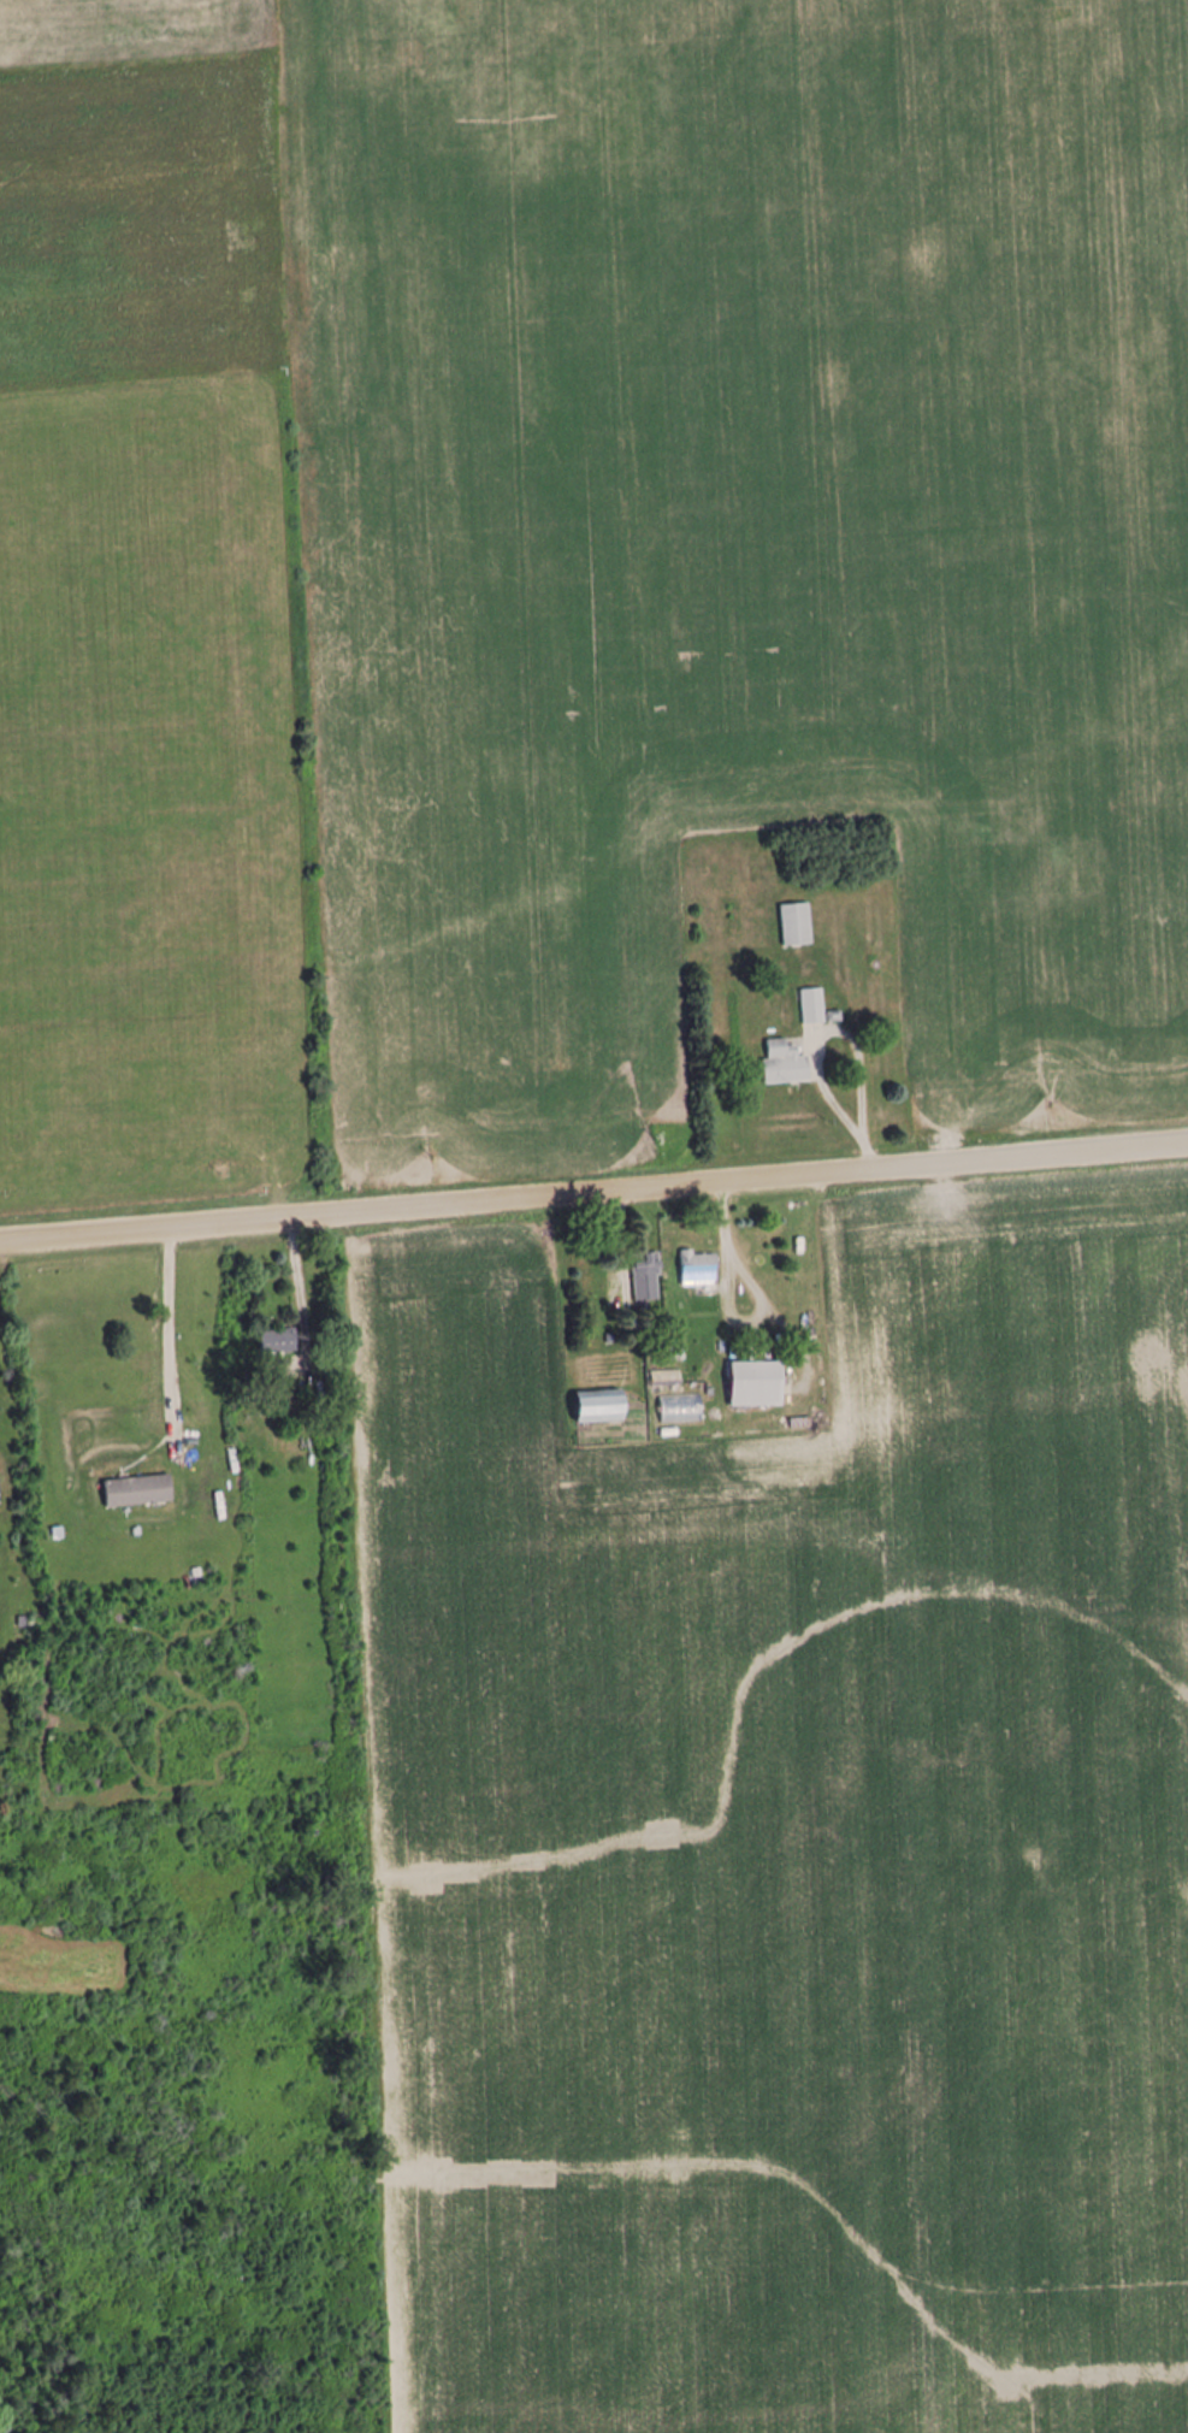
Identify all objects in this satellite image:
building: (797, 923)
building: (814, 1004)
building: (785, 1062)
road: (593, 1193)
building: (699, 1269)
building: (648, 1276)
road: (170, 1331)
building: (279, 1341)
building: (667, 1377)
building: (760, 1383)
building: (603, 1405)
building: (138, 1490)
building: (0, 1492)

